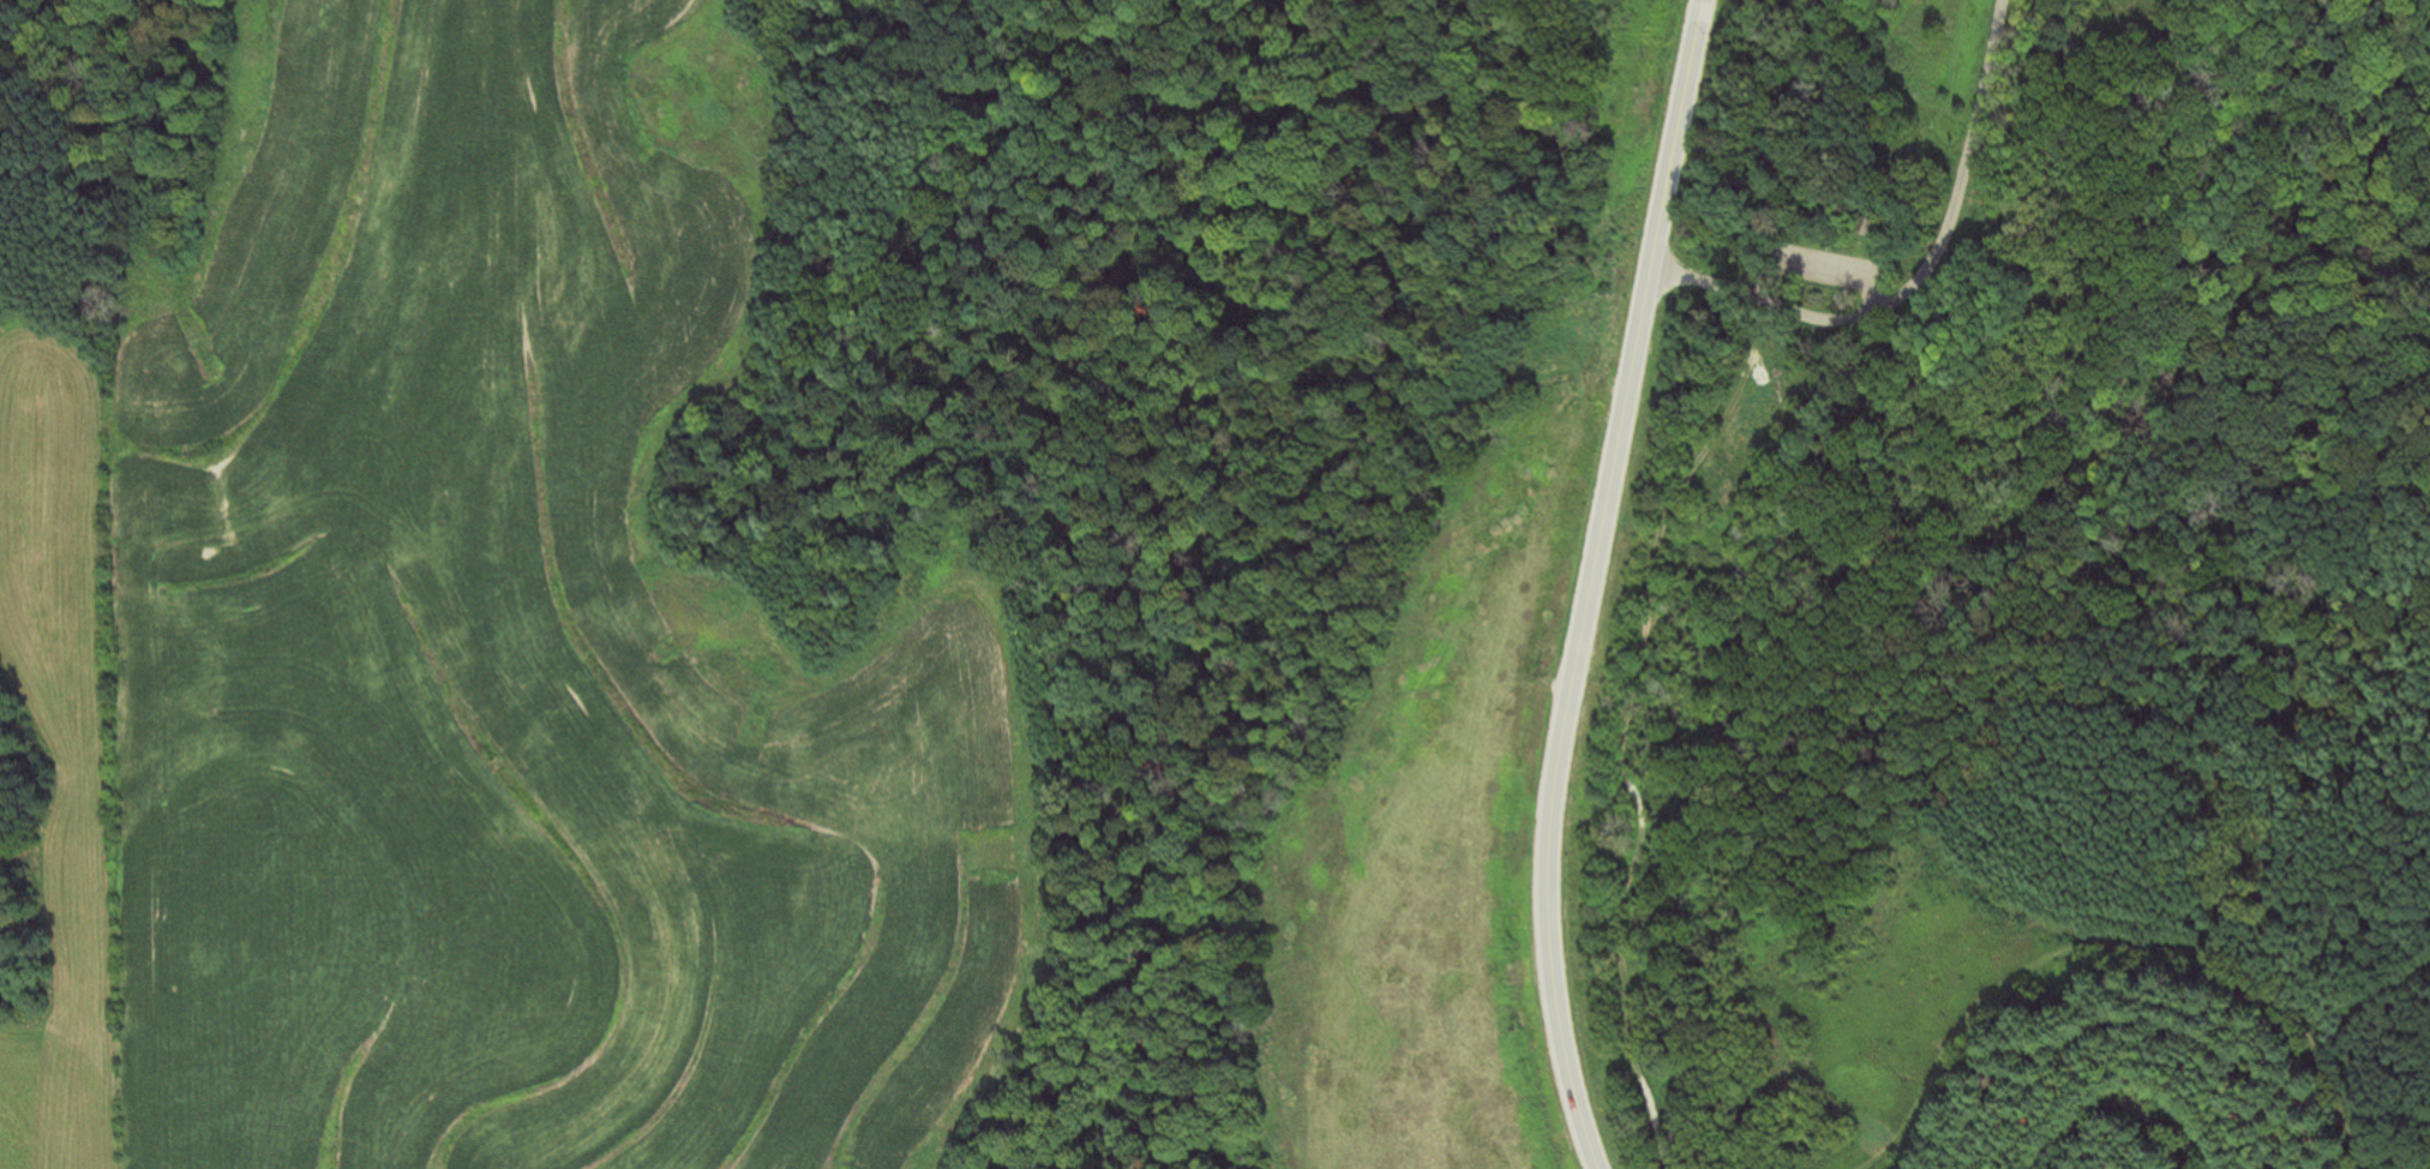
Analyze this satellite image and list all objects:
road: (2214, 4)
road: (1762, 134)
road: (2086, 143)
road: (2274, 199)
building: (1861, 220)
road: (1916, 280)
road: (1586, 584)

